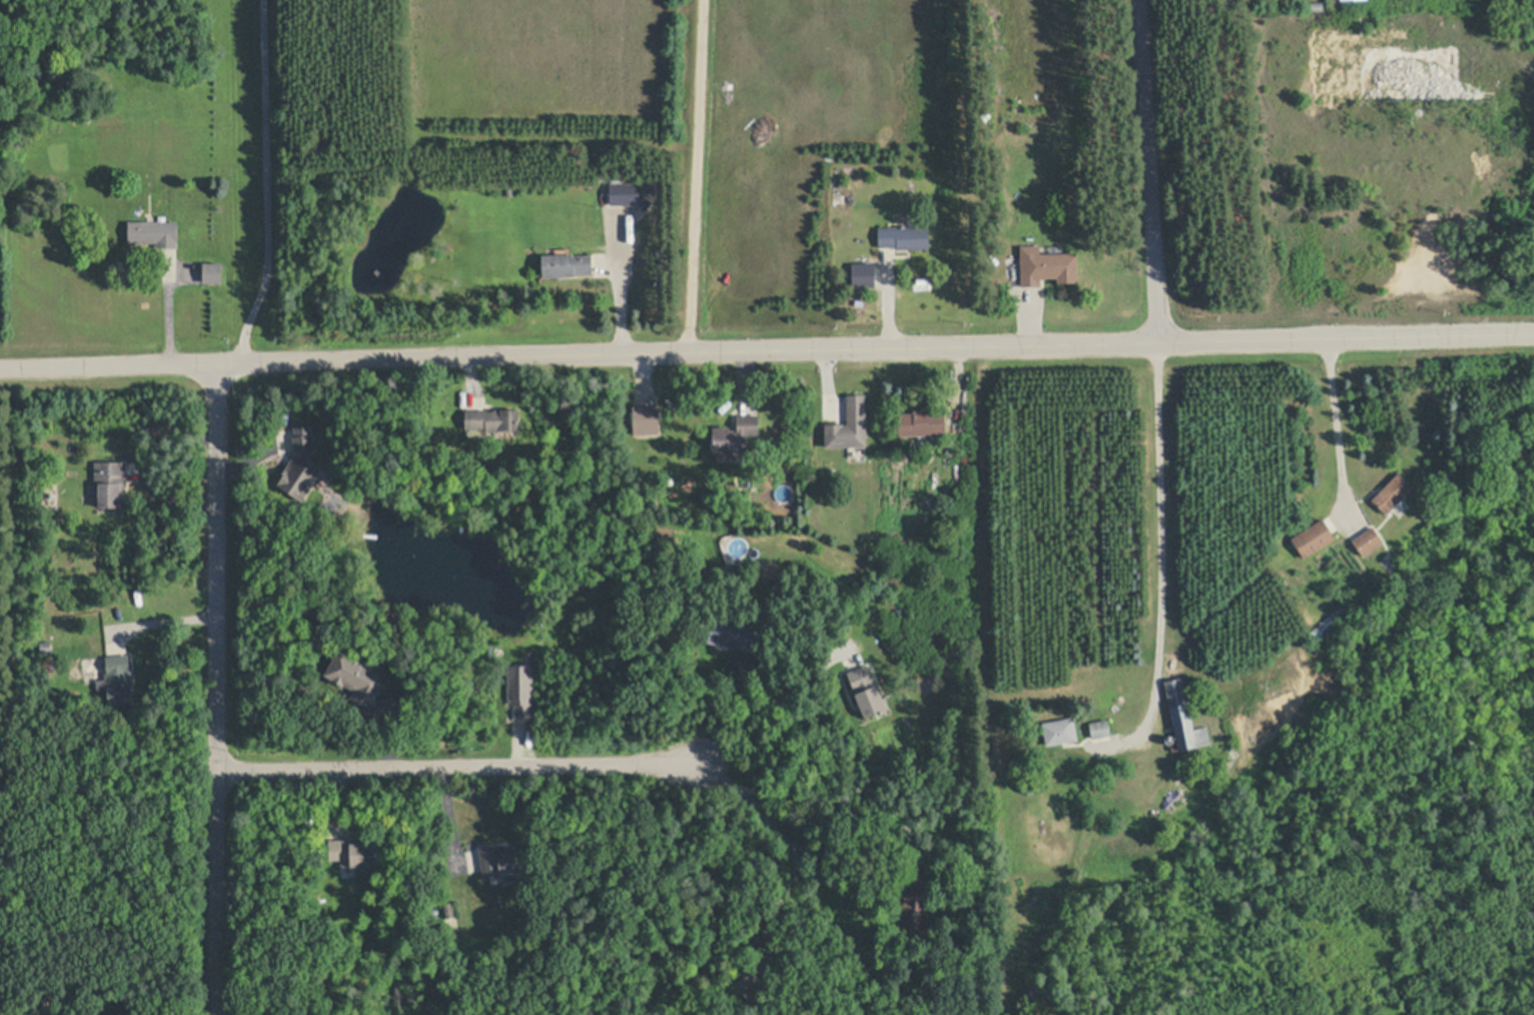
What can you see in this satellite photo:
building: (1345, 0)
building: (1317, 5)
building: (1027, 115)
road: (1147, 172)
road: (698, 176)
road: (268, 183)
building: (844, 183)
building: (648, 188)
building: (509, 190)
building: (625, 192)
building: (155, 231)
building: (904, 236)
building: (567, 264)
building: (1046, 265)
building: (213, 272)
building: (860, 275)
road: (621, 284)
building: (860, 300)
road: (766, 350)
building: (492, 418)
building: (642, 420)
building: (923, 421)
building: (850, 423)
road: (1338, 429)
building: (146, 431)
building: (735, 434)
building: (301, 462)
building: (110, 482)
building: (1392, 492)
road: (1162, 537)
building: (1314, 537)
building: (1368, 540)
building: (690, 588)
building: (727, 633)
building: (46, 645)
building: (355, 674)
building: (119, 678)
building: (101, 683)
road: (219, 689)
building: (519, 691)
building: (868, 692)
road: (769, 706)
building: (1183, 717)
building: (1100, 726)
building: (1060, 729)
building: (1169, 738)
road: (456, 767)
road: (814, 796)
building: (1174, 797)
building: (354, 853)
building: (503, 861)
building: (472, 862)
building: (915, 896)
building: (450, 909)
building: (741, 976)

